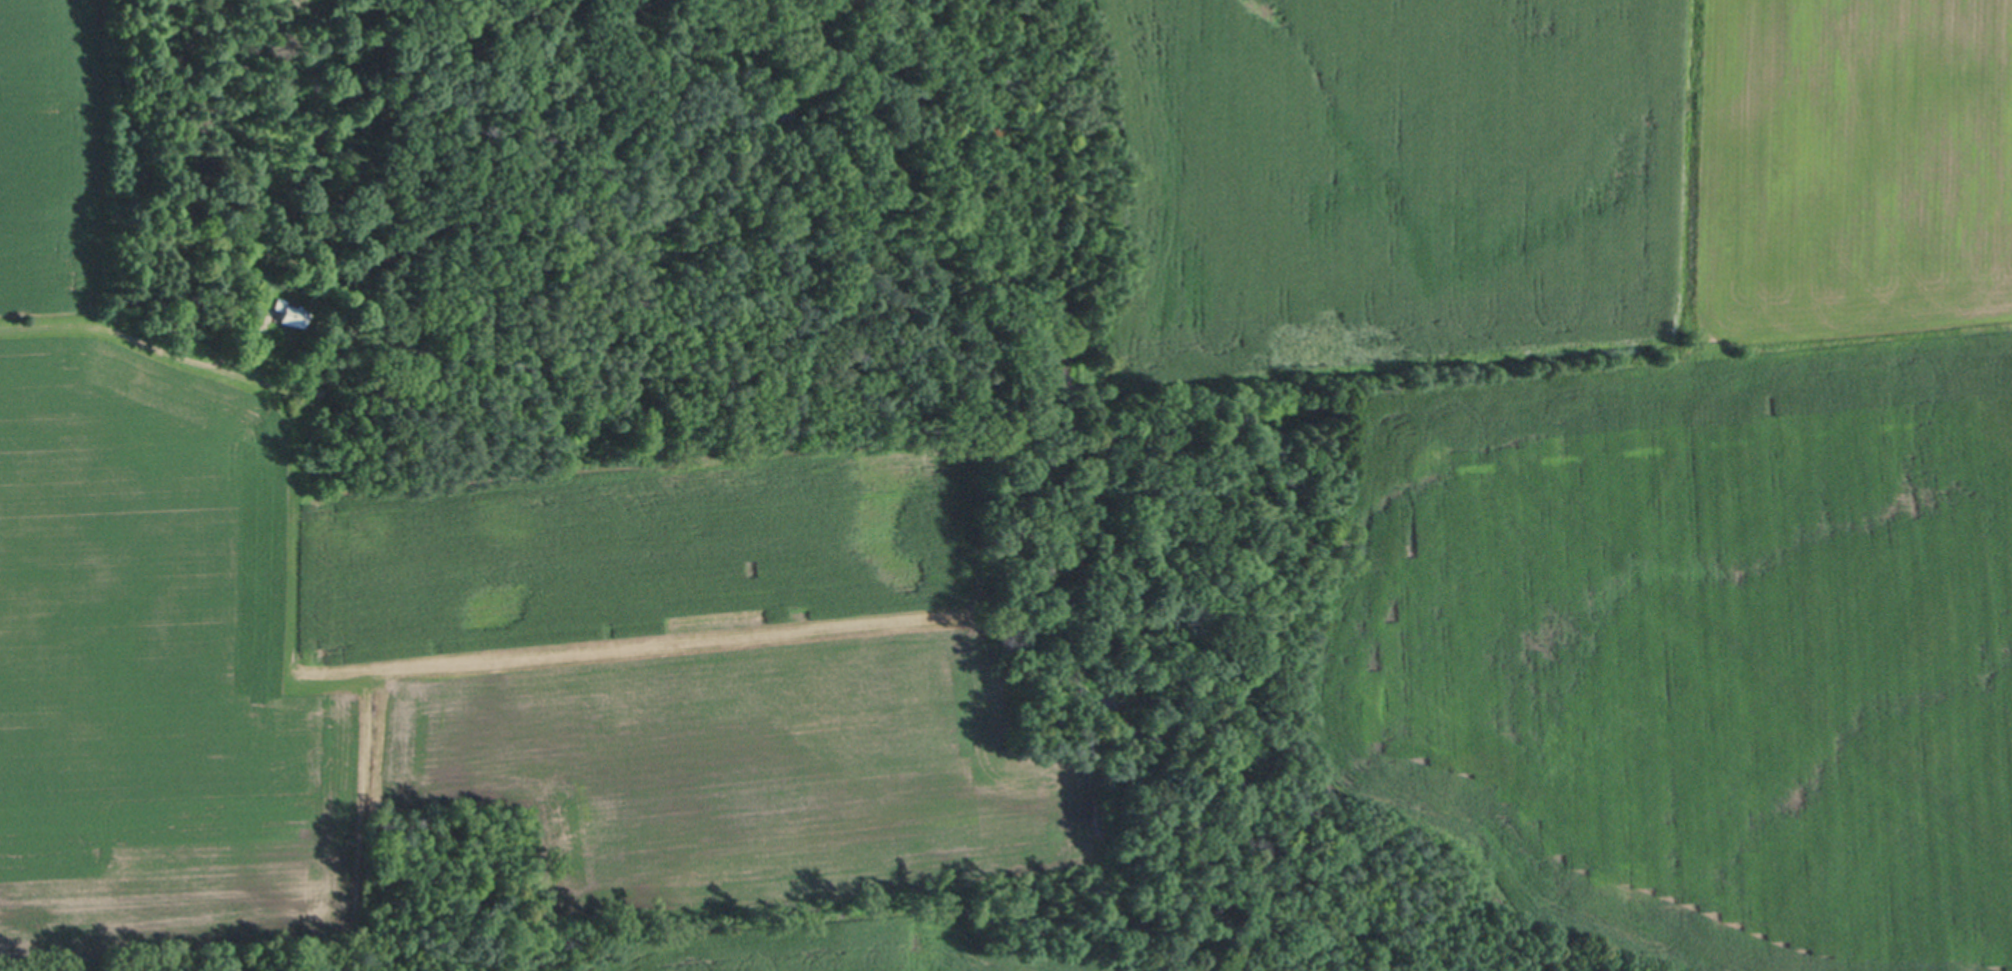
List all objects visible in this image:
building: (290, 317)
crop: (1629, 434)
crop: (469, 647)

